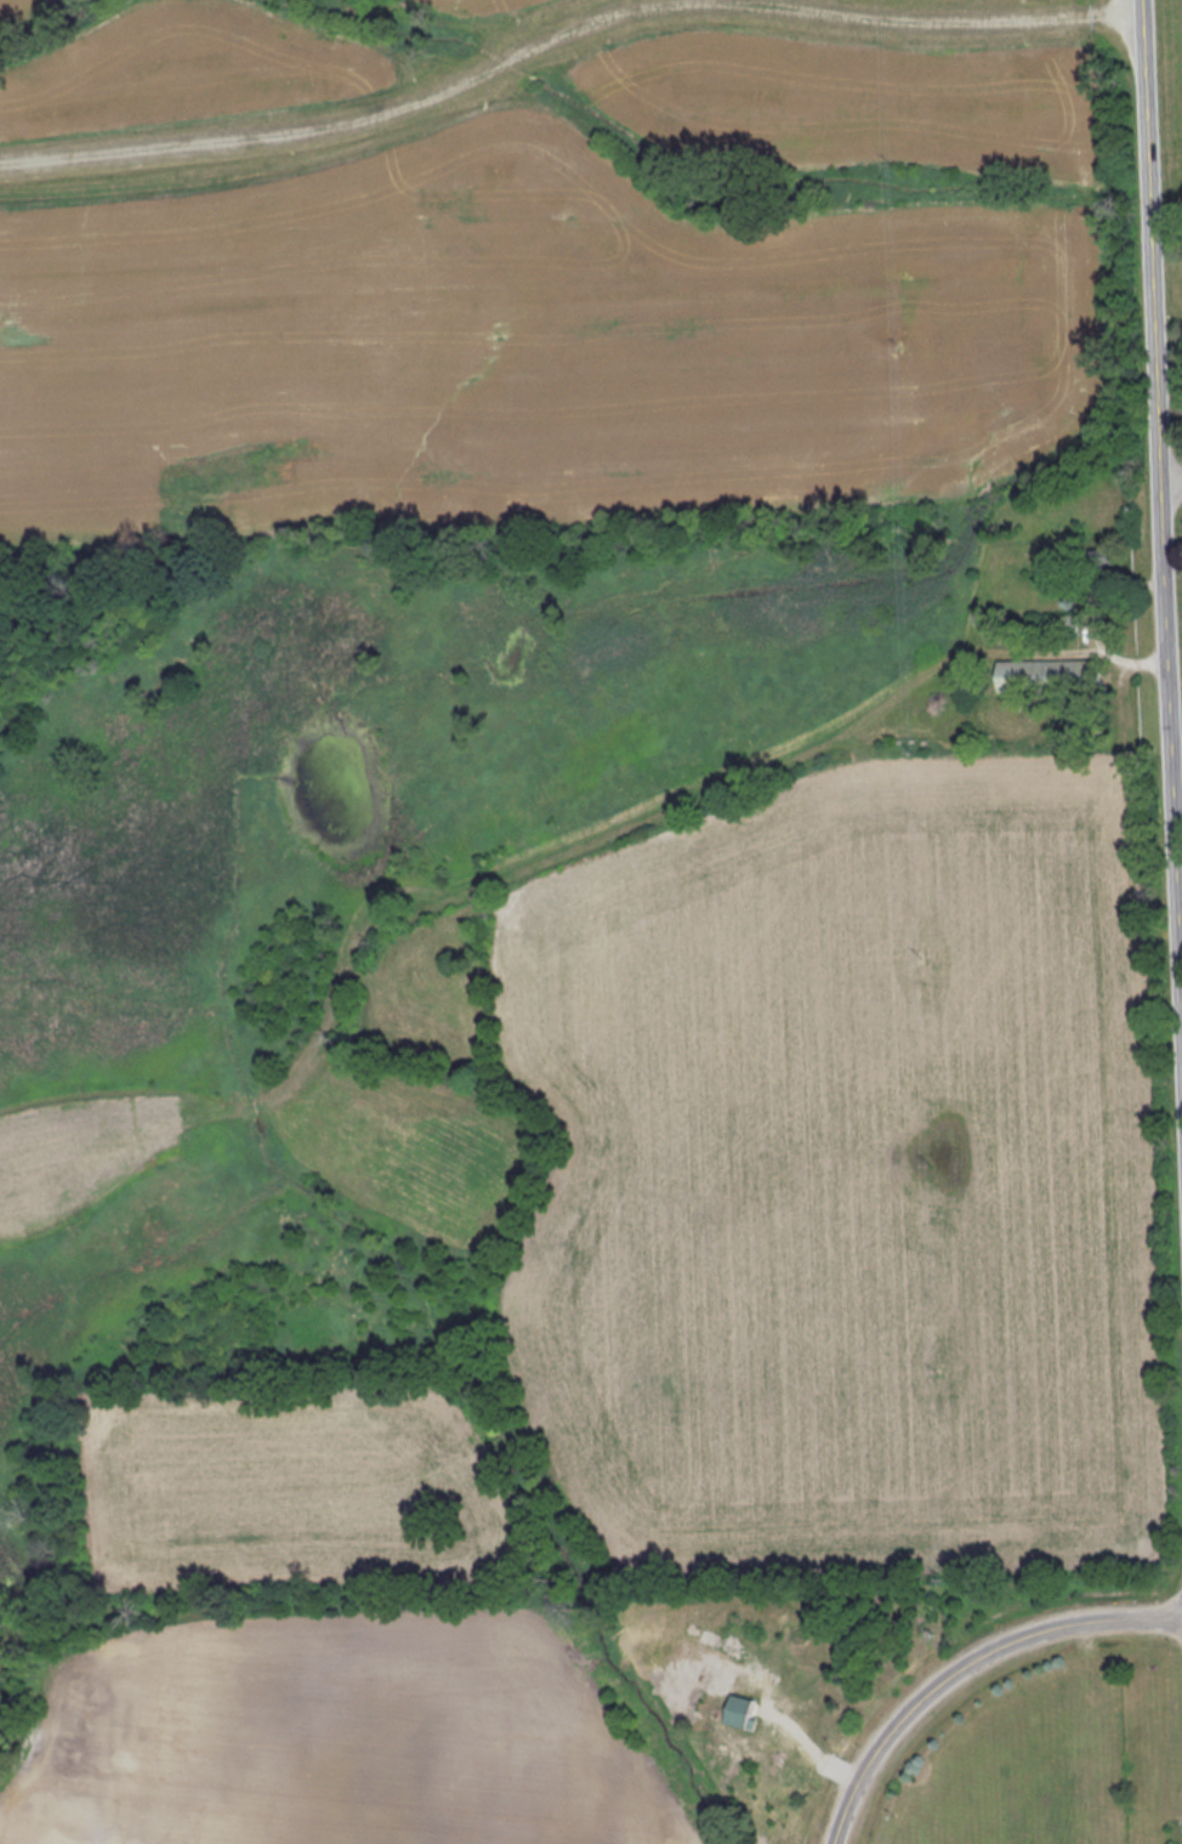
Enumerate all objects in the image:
road: (566, 44)
road: (1161, 446)
road: (1172, 480)
building: (1102, 564)
building: (1065, 623)
building: (1045, 675)
road: (968, 1667)
building: (738, 1709)

